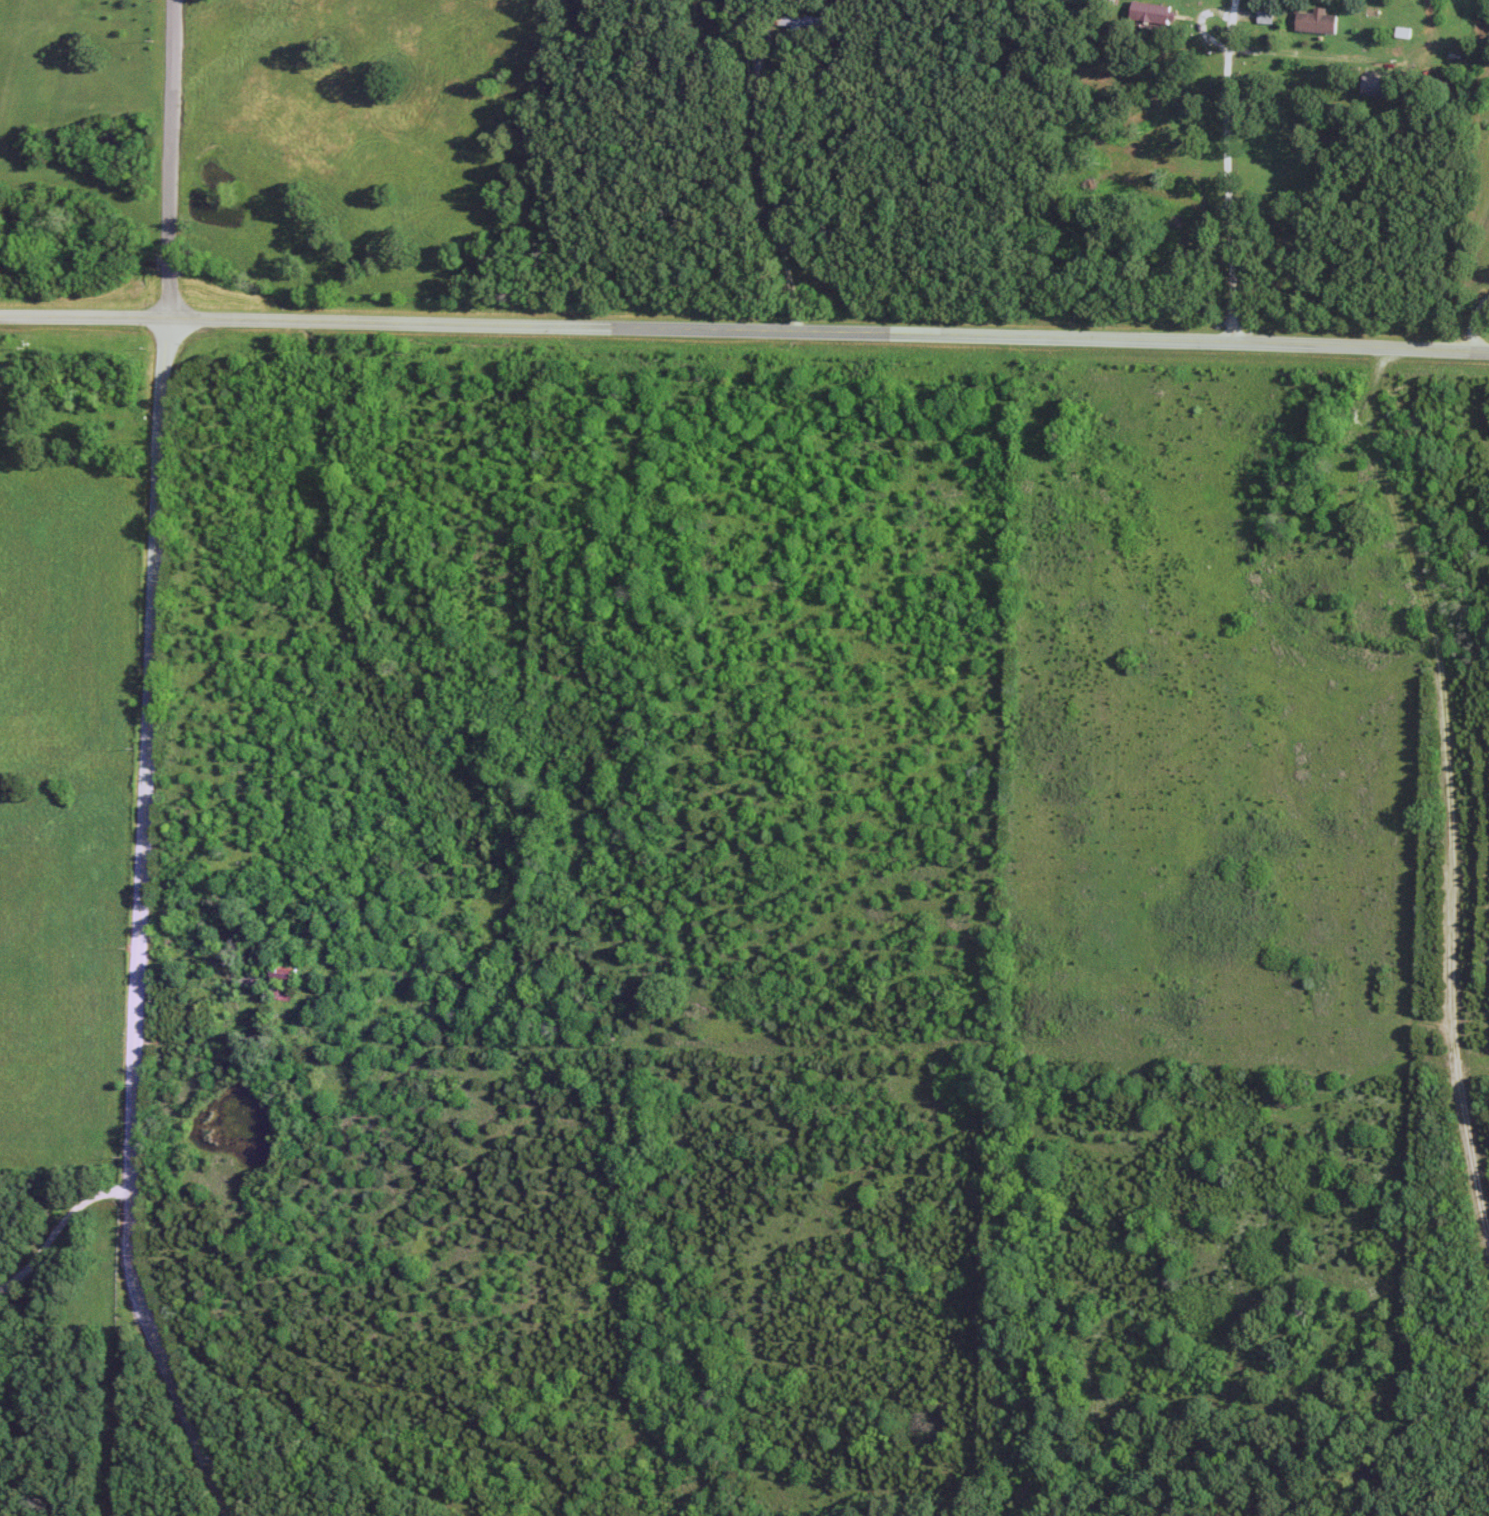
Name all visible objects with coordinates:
building: (1156, 13)
building: (1268, 17)
building: (804, 21)
building: (1319, 22)
road: (1302, 55)
building: (1380, 87)
road: (1228, 171)
road: (773, 186)
road: (1472, 320)
road: (744, 333)
road: (147, 767)
road: (56, 1226)

